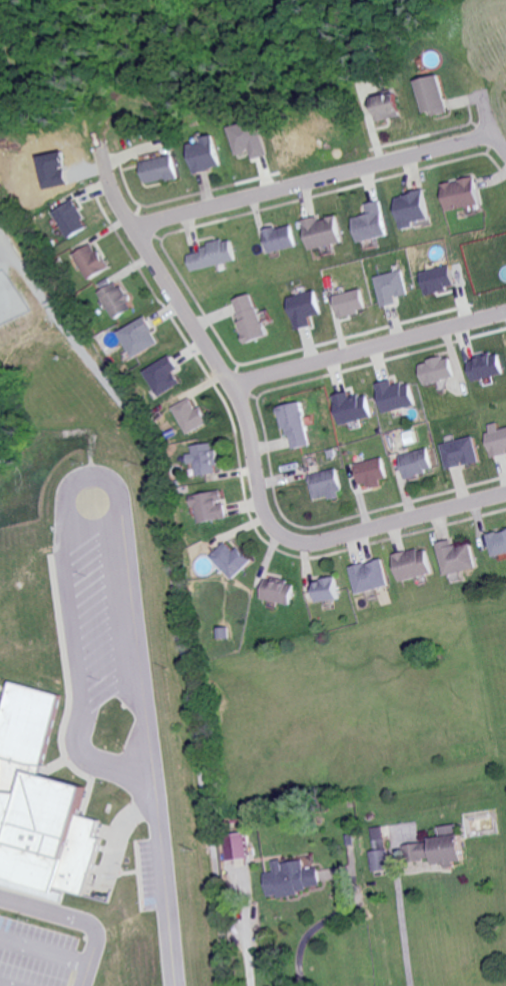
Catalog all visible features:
building: (430, 97)
building: (386, 109)
road: (486, 124)
building: (254, 139)
building: (206, 157)
building: (162, 171)
road: (311, 179)
building: (461, 195)
building: (412, 210)
building: (73, 221)
building: (372, 225)
building: (324, 234)
building: (281, 240)
building: (215, 257)
building: (93, 263)
building: (444, 281)
building: (393, 289)
building: (119, 302)
building: (351, 305)
building: (305, 311)
building: (142, 339)
road: (369, 345)
building: (487, 368)
building: (440, 372)
building: (165, 378)
building: (397, 397)
building: (354, 409)
building: (192, 417)
building: (297, 426)
road: (251, 440)
building: (497, 441)
building: (461, 455)
building: (207, 461)
building: (418, 465)
building: (373, 474)
building: (327, 486)
building: (210, 509)
building: (498, 545)
building: (457, 560)
building: (232, 562)
building: (414, 566)
building: (371, 578)
road: (174, 588)
building: (327, 592)
building: (279, 593)
building: (27, 725)
building: (49, 834)
road: (157, 840)
building: (237, 847)
building: (441, 848)
building: (381, 853)
building: (293, 880)
road: (52, 913)
road: (324, 918)
road: (404, 929)
road: (90, 962)

